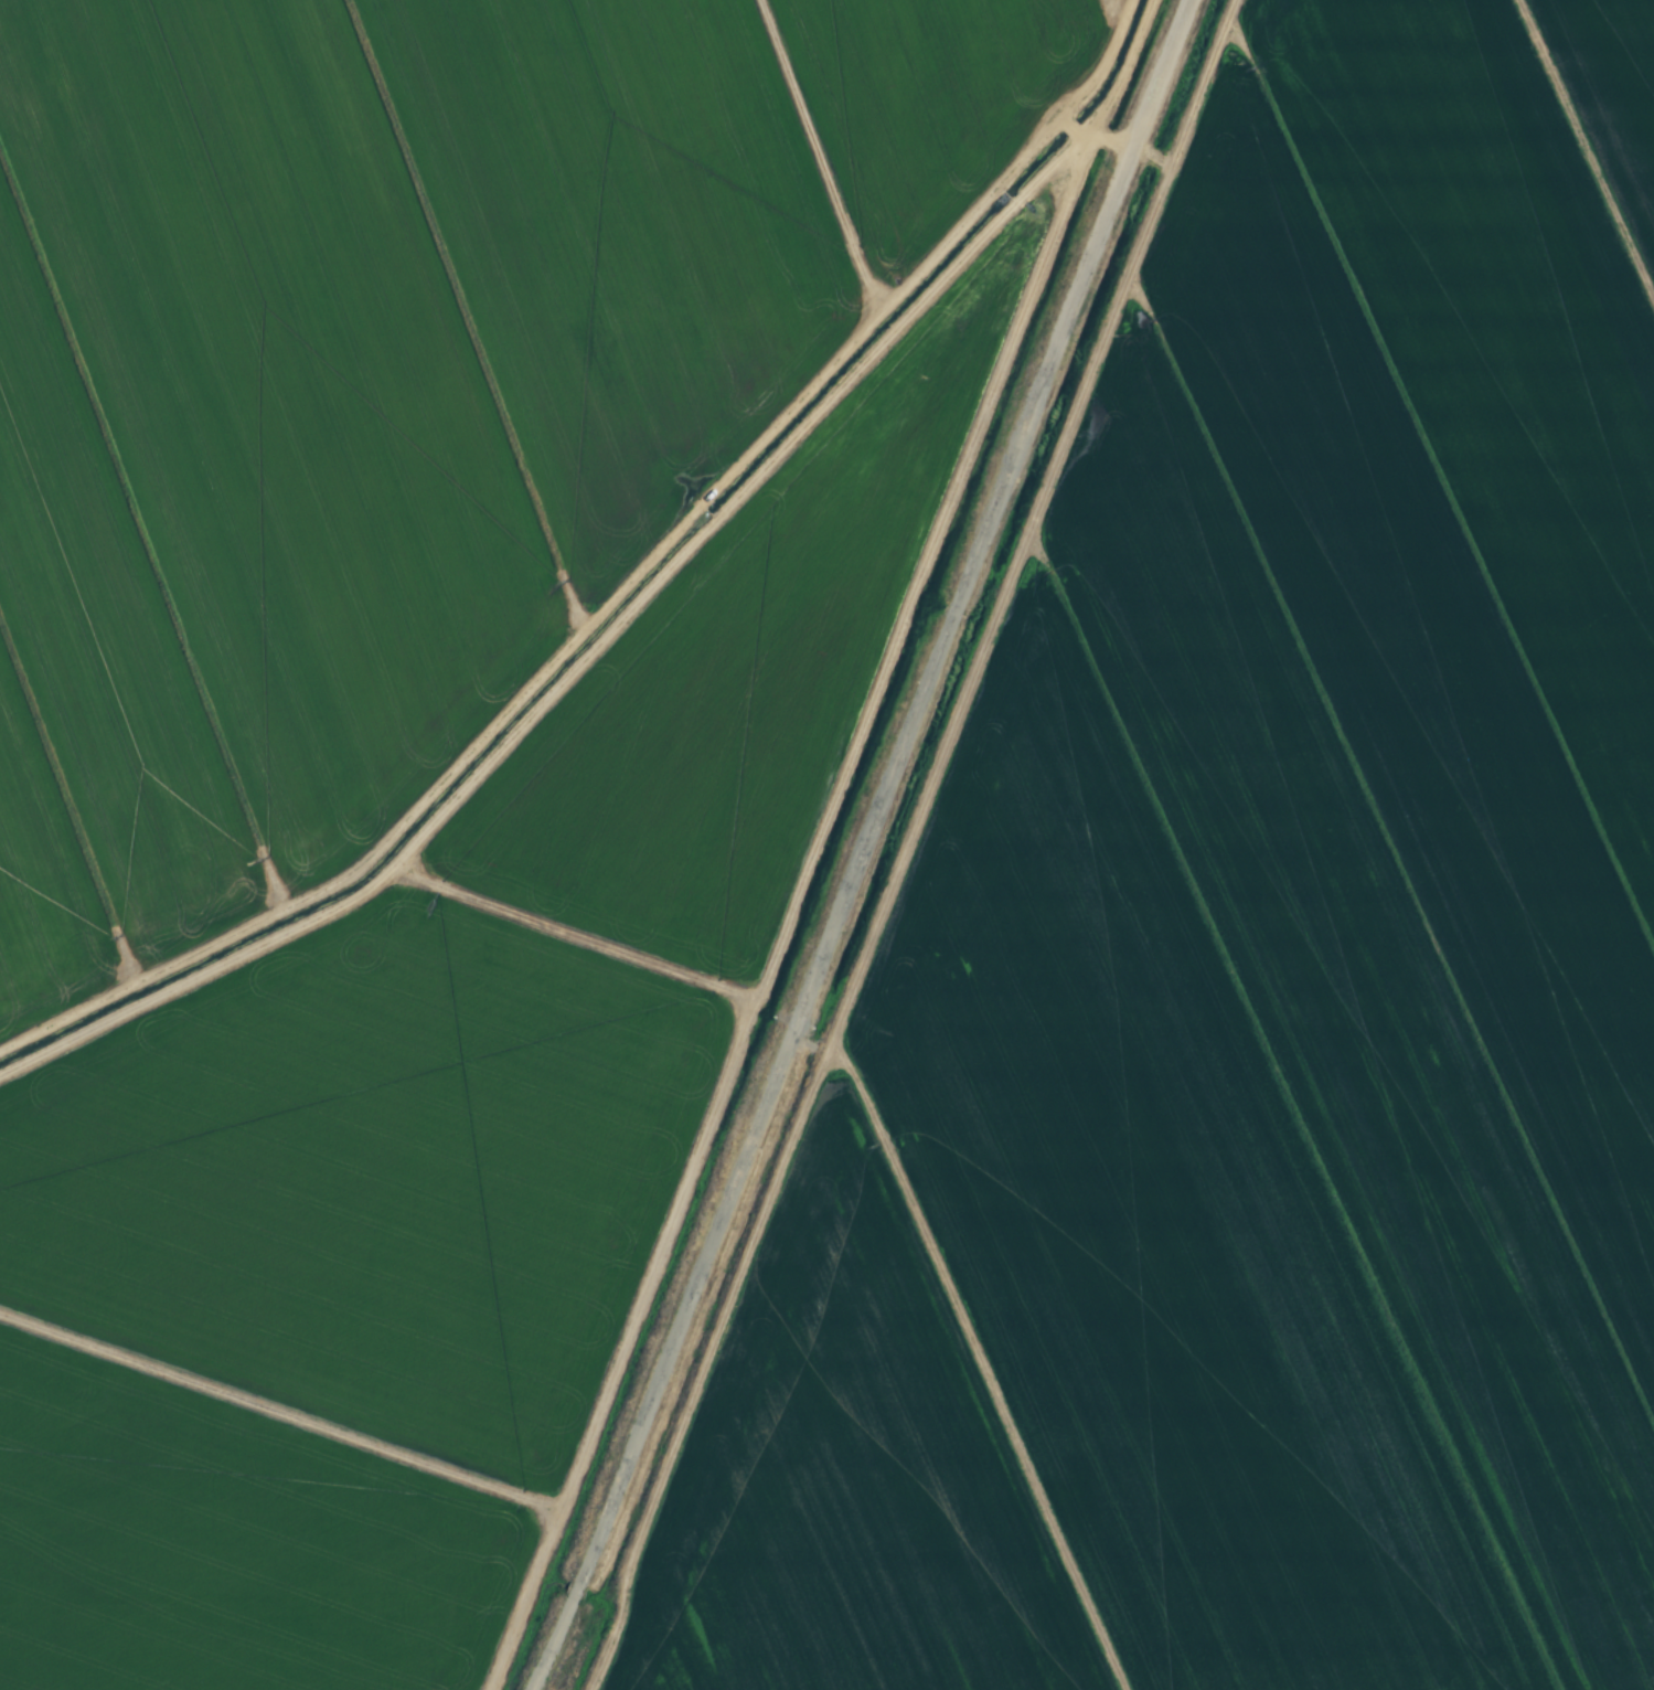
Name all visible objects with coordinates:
road: (840, 844)

